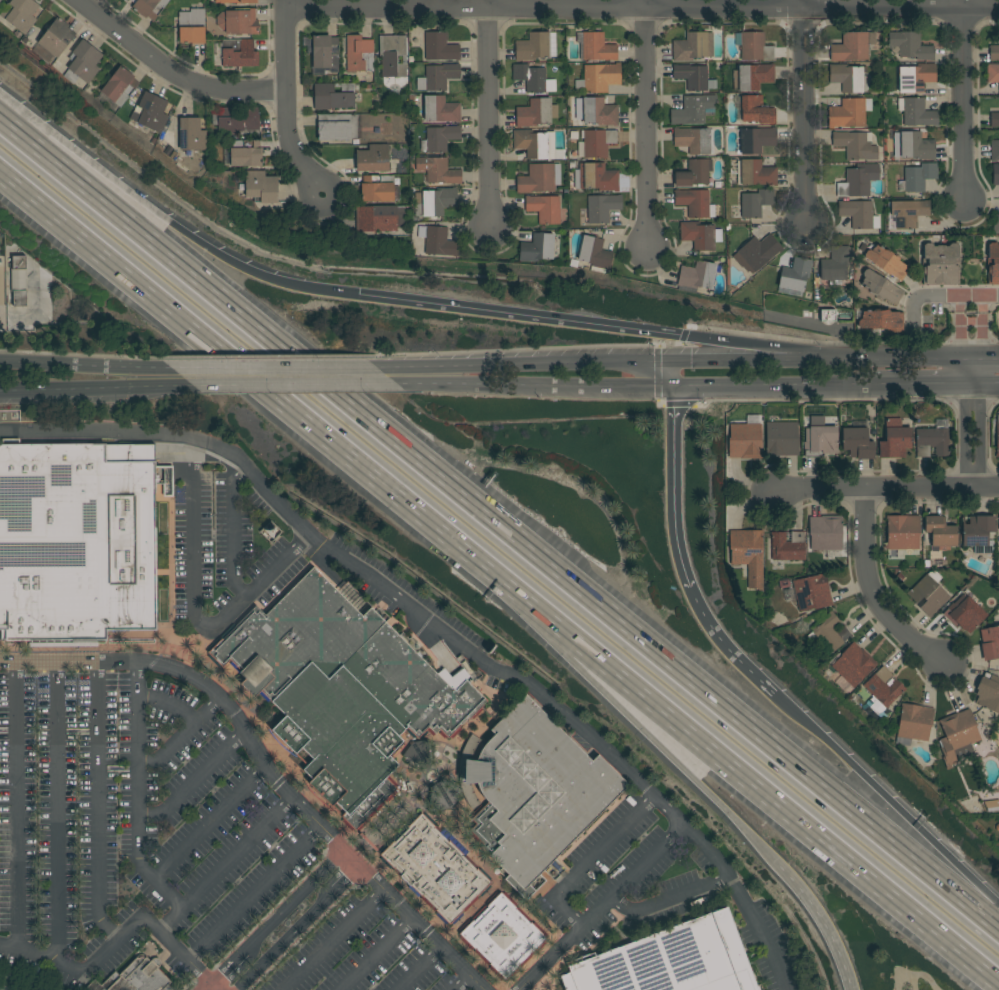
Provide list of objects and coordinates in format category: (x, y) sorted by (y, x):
building: (0, 0)
building: (235, 1)
building: (148, 7)
road: (641, 8)
building: (19, 14)
building: (237, 21)
building: (191, 26)
building: (56, 37)
building: (910, 45)
building: (536, 46)
building: (692, 46)
building: (852, 46)
building: (439, 47)
building: (595, 47)
building: (755, 47)
building: (993, 52)
building: (238, 53)
building: (322, 53)
building: (42, 54)
building: (358, 54)
building: (392, 56)
building: (82, 63)
road: (171, 71)
building: (993, 73)
building: (437, 77)
building: (694, 77)
building: (752, 77)
building: (917, 77)
building: (533, 78)
building: (598, 78)
building: (846, 78)
building: (119, 87)
building: (335, 96)
road: (962, 102)
road: (285, 105)
building: (440, 109)
building: (693, 110)
building: (756, 110)
building: (150, 112)
building: (599, 112)
building: (915, 112)
building: (535, 113)
building: (849, 113)
road: (803, 114)
road: (487, 116)
building: (237, 120)
building: (994, 120)
building: (337, 126)
road: (644, 126)
building: (191, 134)
building: (441, 137)
building: (692, 140)
building: (754, 140)
building: (532, 143)
building: (597, 143)
building: (855, 146)
building: (916, 146)
building: (994, 151)
building: (245, 153)
building: (372, 158)
building: (437, 170)
building: (755, 173)
building: (694, 174)
building: (995, 174)
building: (595, 177)
building: (917, 177)
building: (538, 178)
building: (858, 180)
building: (261, 187)
building: (377, 188)
building: (436, 201)
building: (756, 202)
building: (695, 203)
building: (544, 208)
building: (600, 208)
building: (859, 214)
building: (908, 214)
building: (378, 219)
road: (170, 220)
building: (996, 224)
building: (699, 235)
building: (437, 241)
building: (536, 248)
building: (594, 252)
building: (757, 252)
building: (886, 262)
building: (835, 264)
building: (940, 264)
building: (993, 264)
building: (795, 275)
building: (0, 277)
building: (696, 277)
building: (18, 281)
building: (880, 287)
road: (939, 297)
building: (827, 316)
road: (552, 319)
building: (882, 320)
road: (971, 327)
road: (790, 352)
road: (985, 358)
traffic signals: (694, 359)
road: (821, 359)
road: (531, 363)
road: (234, 365)
road: (87, 366)
road: (282, 367)
road: (971, 371)
road: (672, 373)
road: (985, 382)
road: (925, 383)
road: (287, 385)
road: (535, 385)
road: (776, 385)
traffic signals: (656, 386)
road: (88, 387)
traffic signals: (675, 407)
road: (971, 436)
building: (780, 437)
building: (997, 437)
building: (894, 440)
building: (933, 440)
building: (744, 441)
building: (820, 441)
building: (857, 443)
road: (674, 474)
park: (577, 477)
building: (167, 483)
road: (885, 489)
park: (703, 494)
road: (231, 530)
road: (499, 530)
building: (903, 532)
building: (998, 532)
building: (825, 533)
building: (939, 533)
building: (977, 533)
building: (76, 541)
building: (787, 547)
building: (748, 555)
parking lot: (291, 562)
building: (812, 592)
road: (873, 593)
building: (929, 593)
road: (194, 602)
building: (964, 614)
road: (439, 629)
building: (299, 632)
building: (828, 633)
road: (717, 635)
building: (990, 643)
building: (851, 665)
building: (411, 682)
building: (883, 688)
building: (988, 692)
road: (621, 709)
building: (913, 724)
road: (175, 737)
building: (957, 737)
building: (340, 738)
building: (416, 753)
road: (262, 770)
road: (733, 771)
road: (187, 783)
building: (532, 793)
road: (133, 795)
road: (98, 805)
road: (15, 807)
road: (886, 808)
road: (57, 813)
parking lot: (135, 817)
road: (205, 822)
road: (591, 861)
road: (222, 865)
building: (435, 869)
parking lot: (653, 885)
road: (251, 894)
road: (667, 895)
road: (290, 901)
road: (600, 907)
road: (822, 920)
road: (294, 928)
building: (502, 936)
road: (118, 937)
road: (328, 939)
parking lot: (374, 949)
road: (372, 954)
building: (669, 960)
road: (226, 966)
road: (415, 967)
road: (917, 975)
building: (136, 977)
road: (460, 981)
road: (205, 986)

